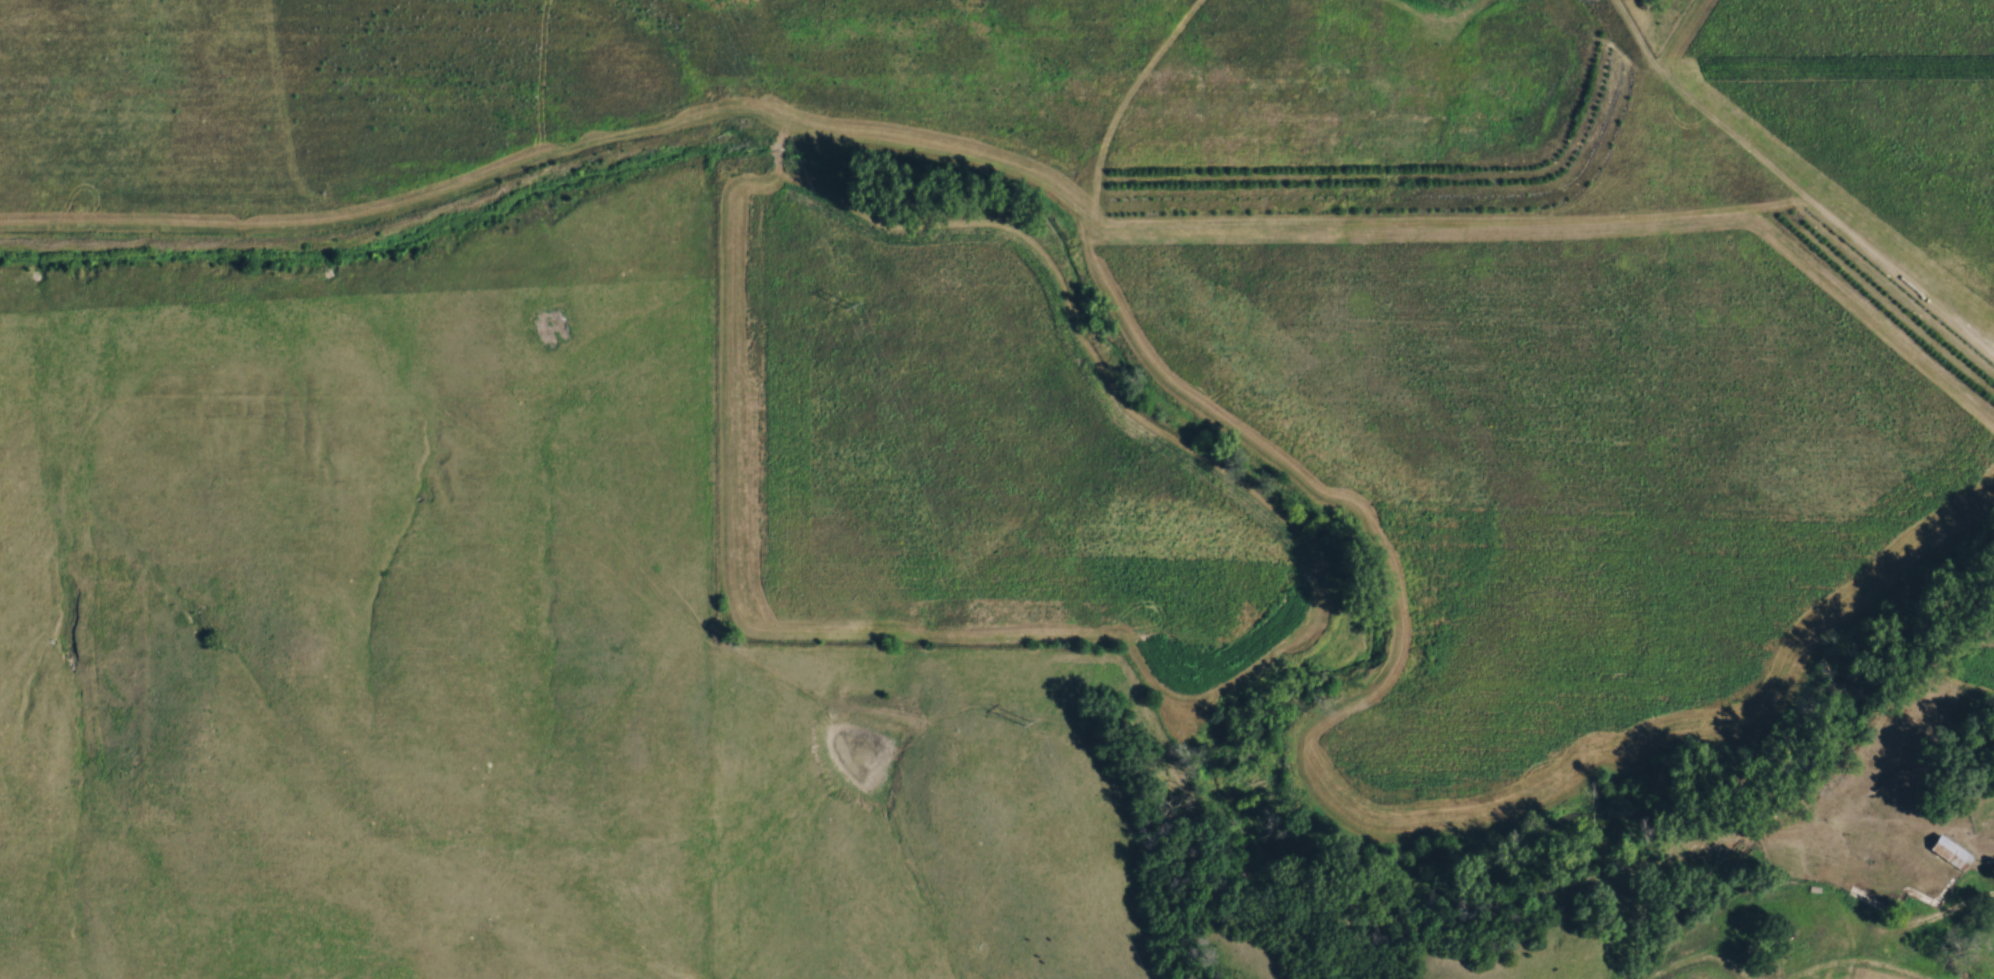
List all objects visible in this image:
power tower: (852, 306)
power tower: (1029, 722)
building: (1951, 852)

